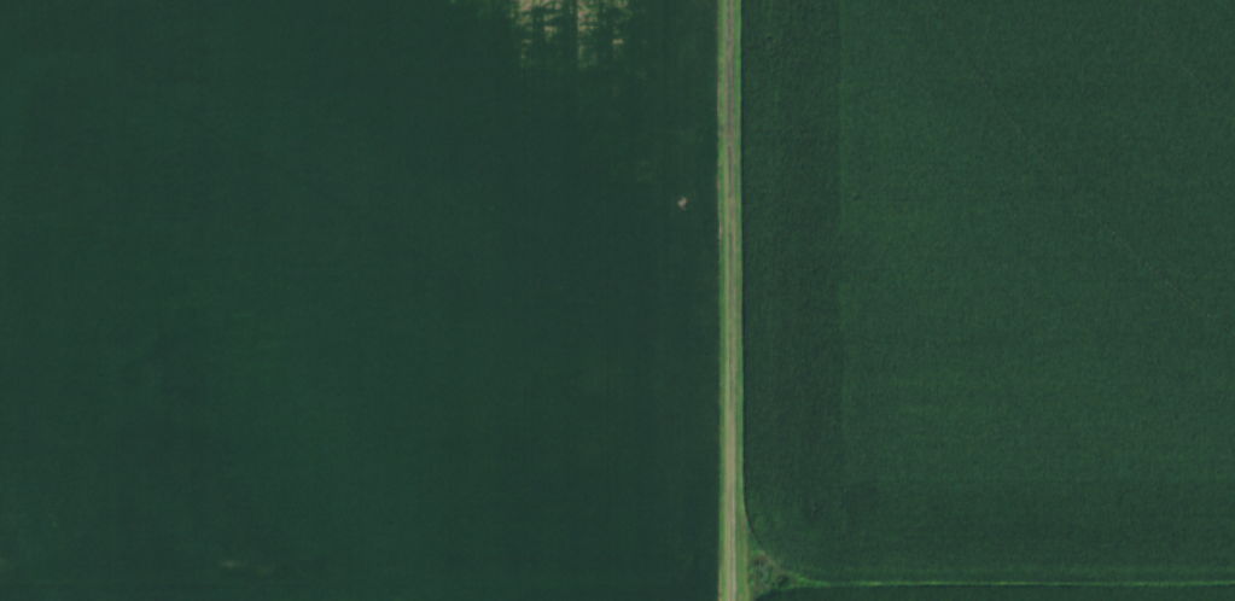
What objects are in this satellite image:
road: (728, 300)

